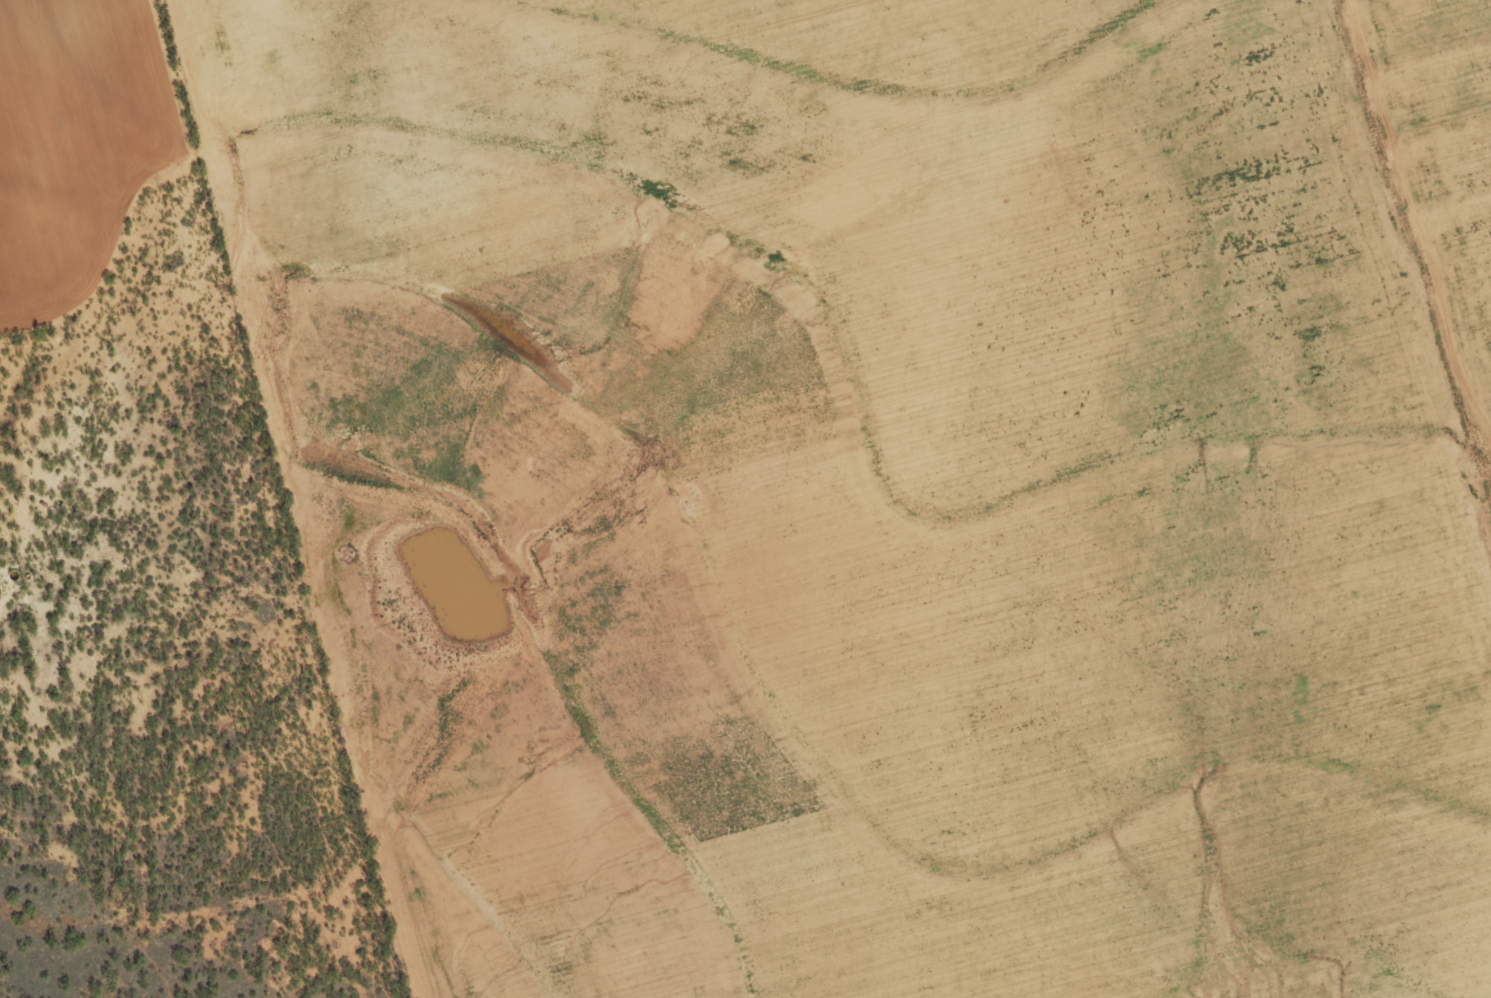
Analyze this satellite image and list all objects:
road: (216, 250)
road: (1403, 309)
road: (1317, 646)

